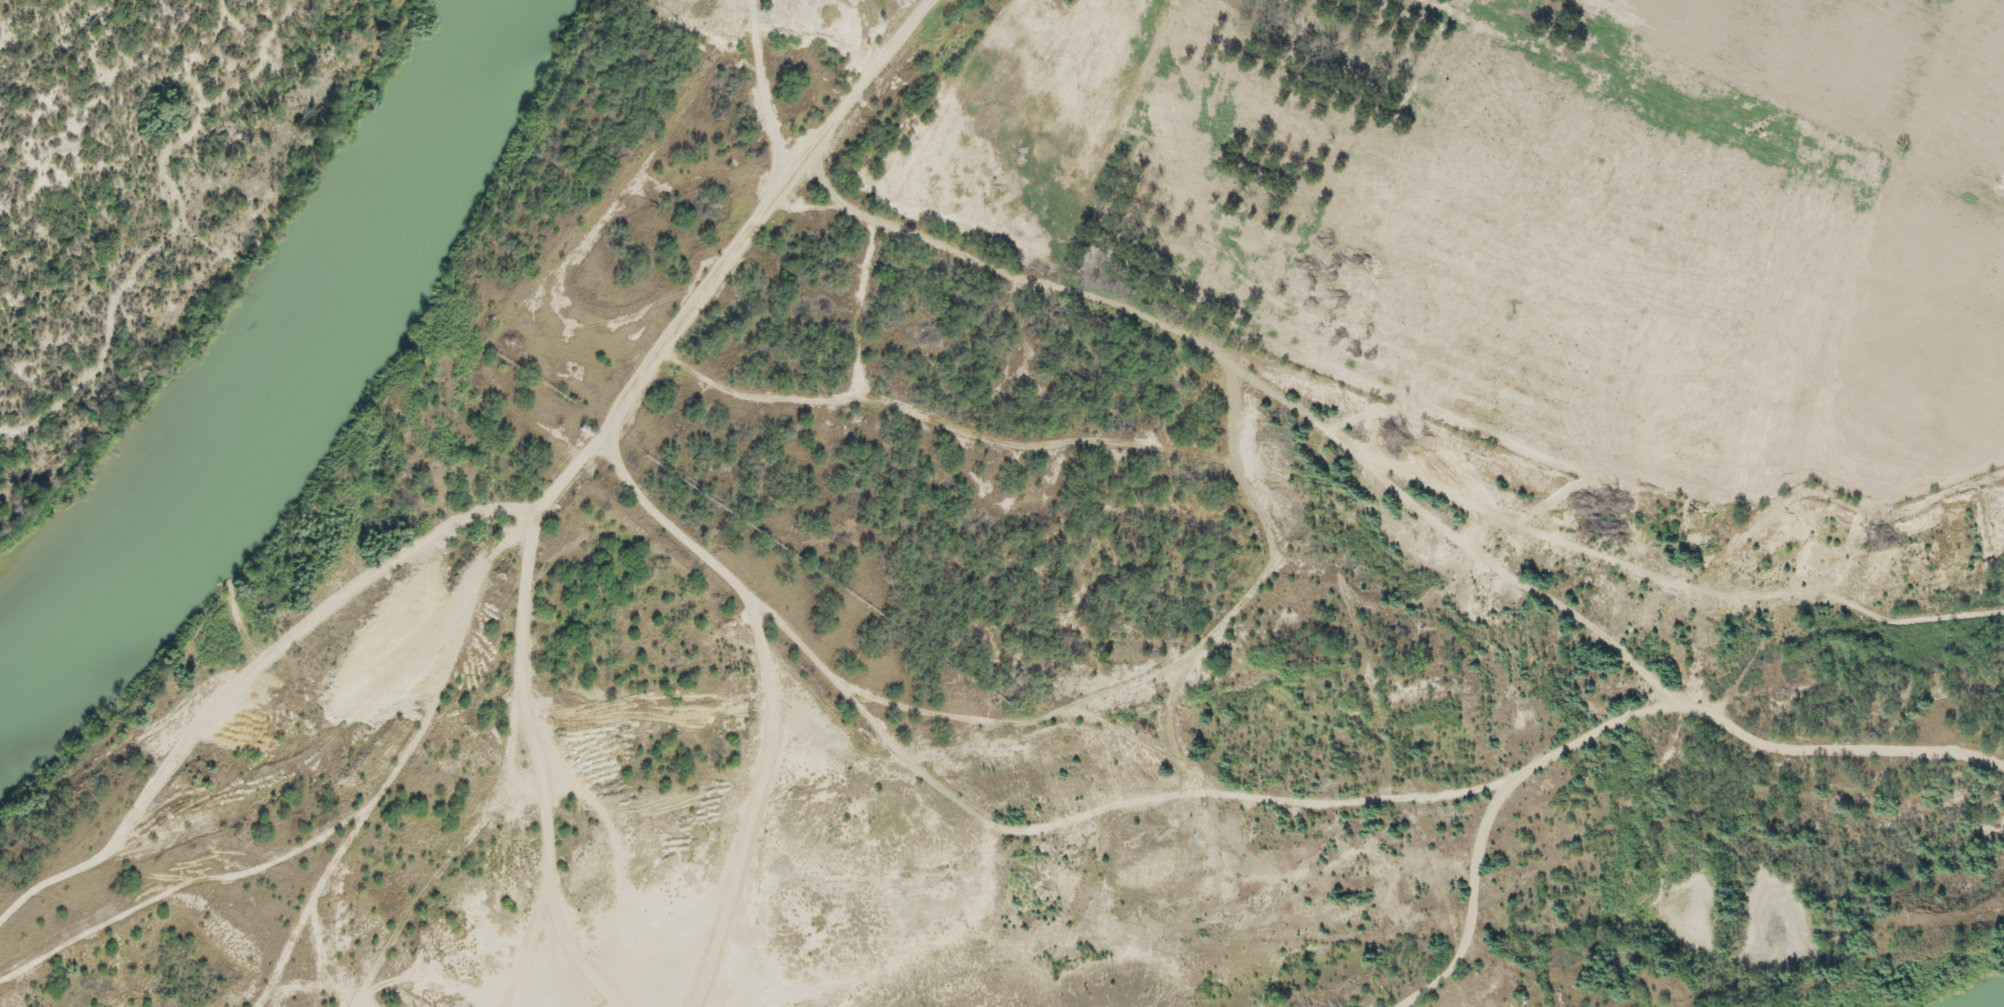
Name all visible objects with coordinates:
river: (291, 365)
road: (674, 534)
road: (462, 702)
road: (1467, 986)
road: (1354, 990)
road: (1420, 996)

